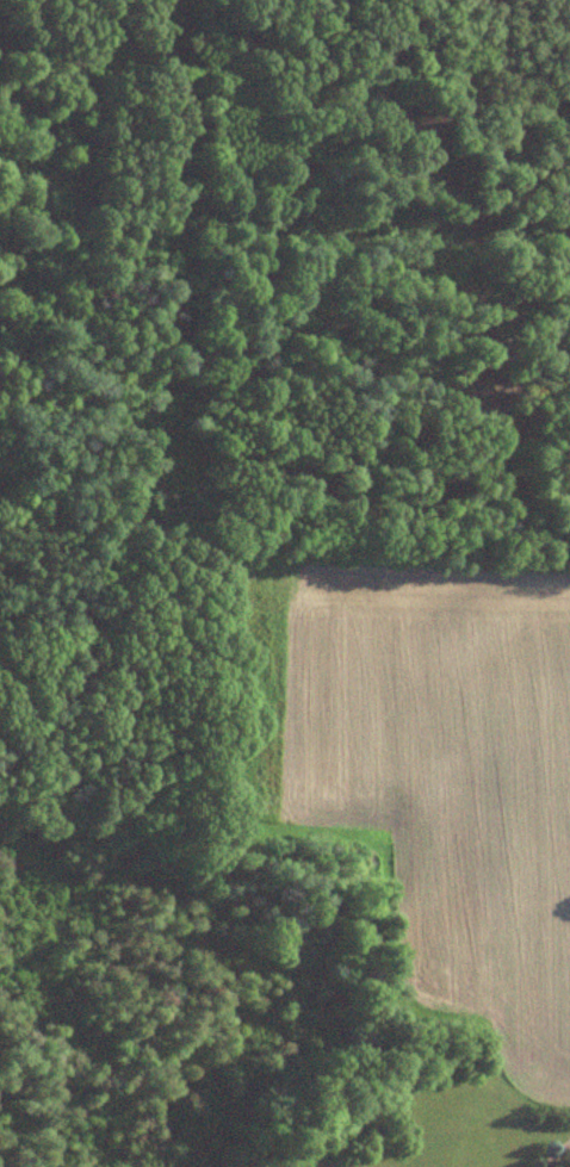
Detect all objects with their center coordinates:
road: (556, 1153)

